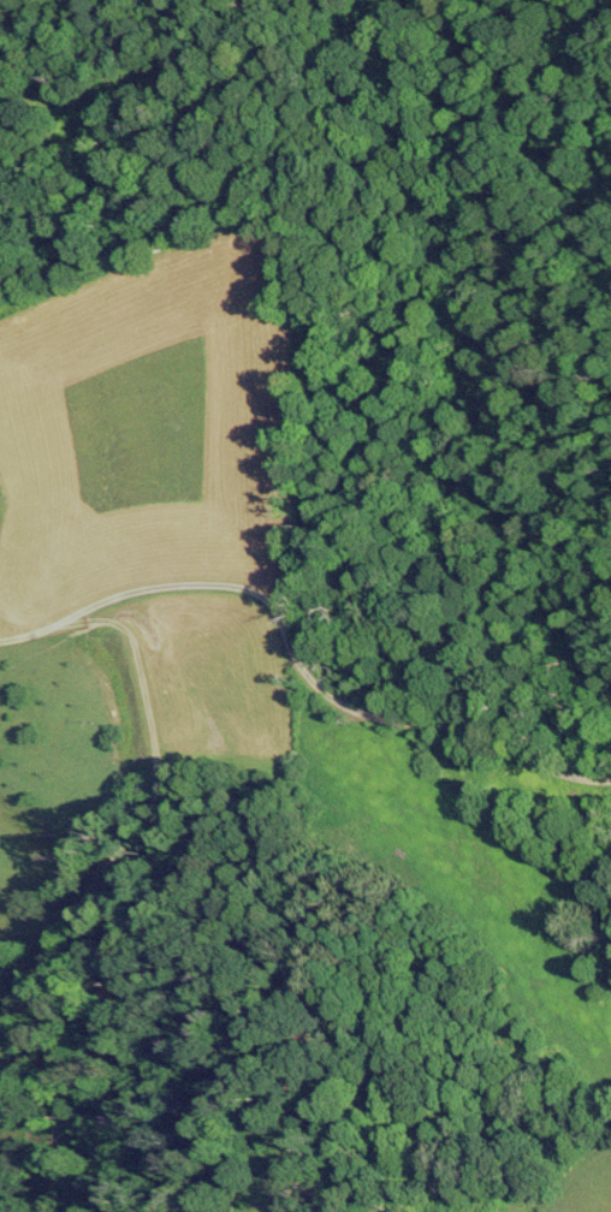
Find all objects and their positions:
road: (299, 707)

